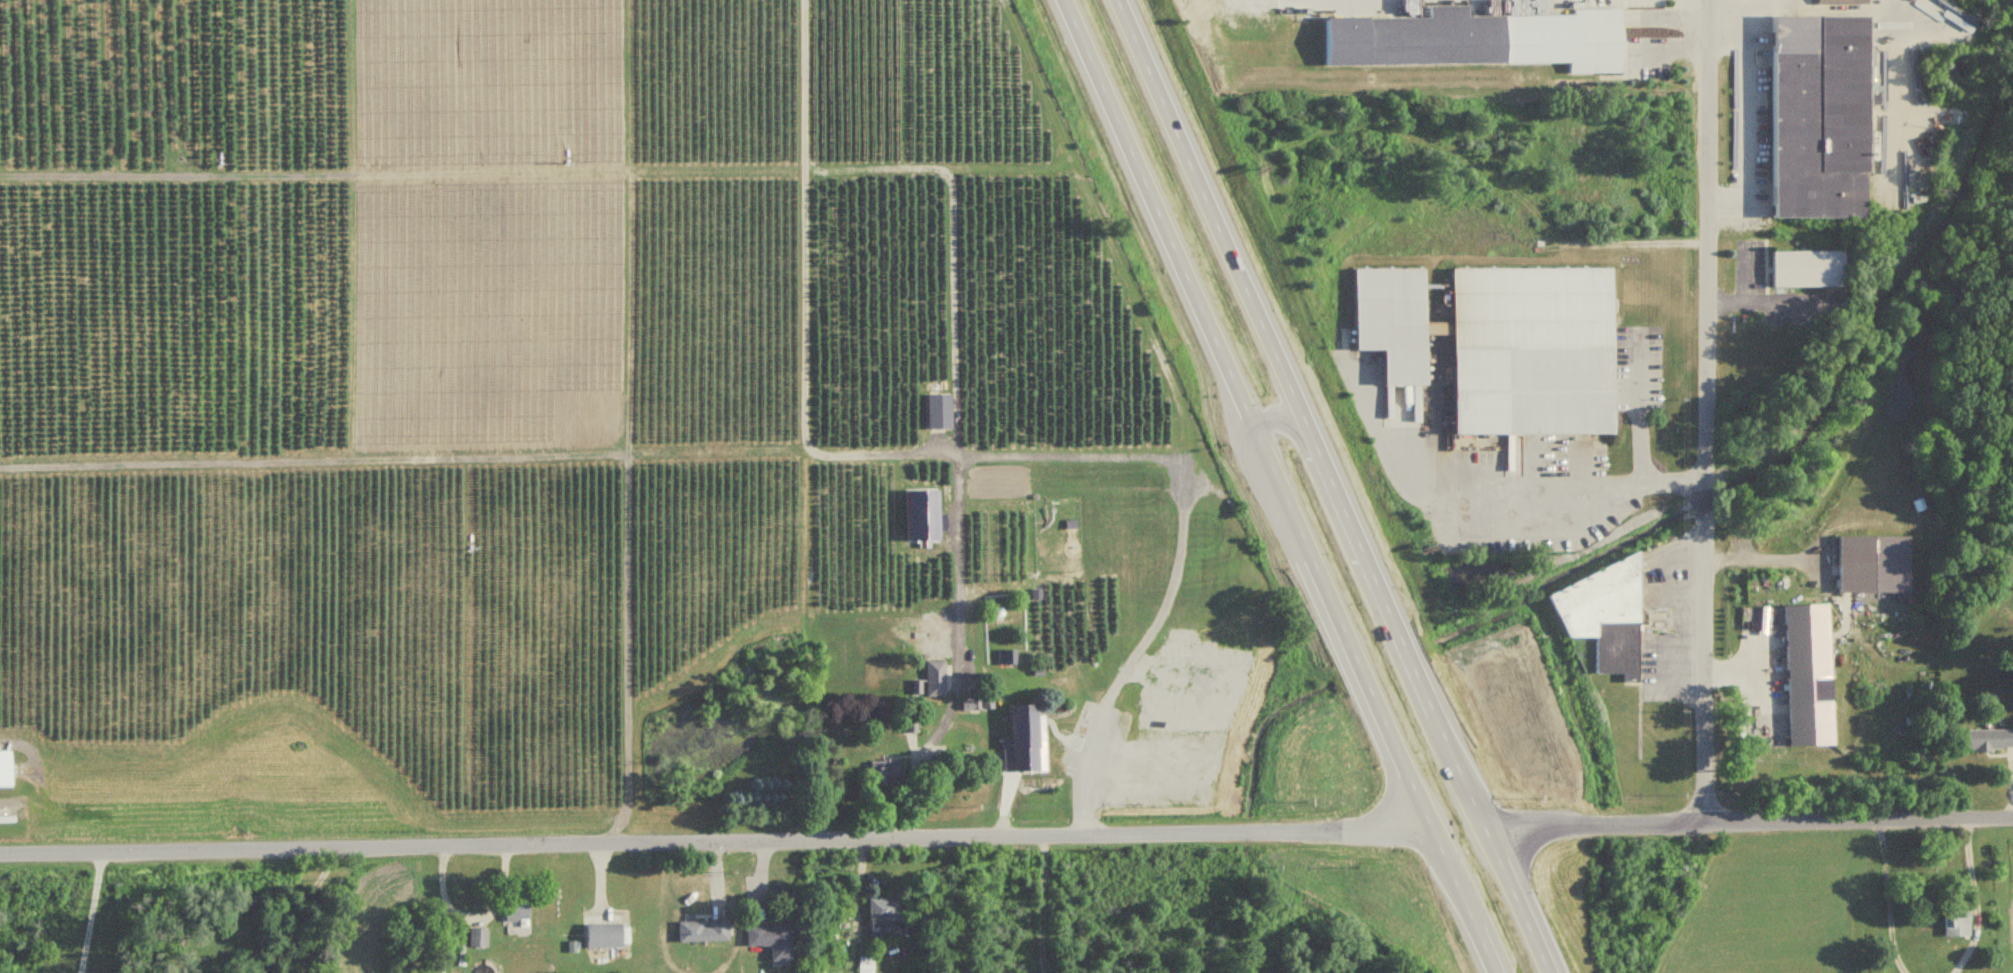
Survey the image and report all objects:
building: (1473, 39)
road: (1747, 105)
building: (1820, 109)
building: (1810, 265)
building: (1388, 322)
building: (1527, 350)
road: (1638, 407)
road: (1705, 411)
road: (1297, 427)
road: (1279, 486)
road: (1331, 486)
road: (1537, 488)
building: (1869, 559)
building: (1600, 596)
building: (1621, 645)
building: (1005, 658)
road: (1757, 671)
building: (1804, 672)
building: (933, 679)
building: (974, 703)
building: (1987, 729)
building: (1020, 735)
building: (3, 770)
road: (1747, 822)
road: (713, 843)
road: (1886, 897)
road: (1973, 899)
road: (851, 906)
building: (513, 909)
building: (880, 909)
road: (293, 911)
road: (90, 913)
road: (472, 917)
building: (1953, 922)
building: (699, 930)
building: (599, 934)
building: (474, 937)
building: (768, 937)
building: (863, 964)

